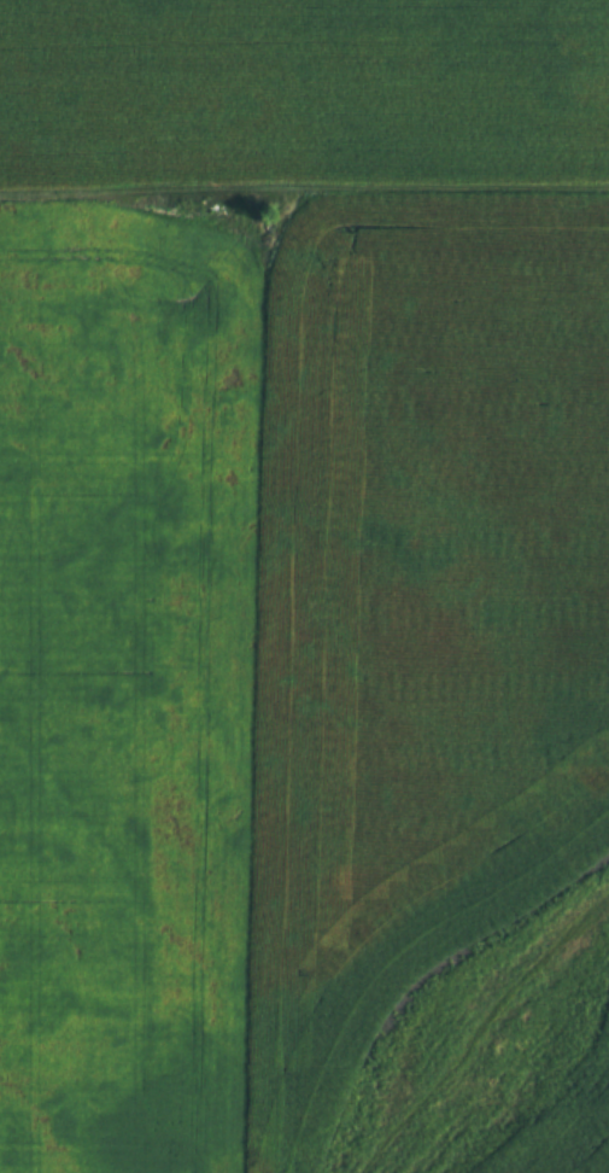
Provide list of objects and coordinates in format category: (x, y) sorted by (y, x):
road: (304, 181)

